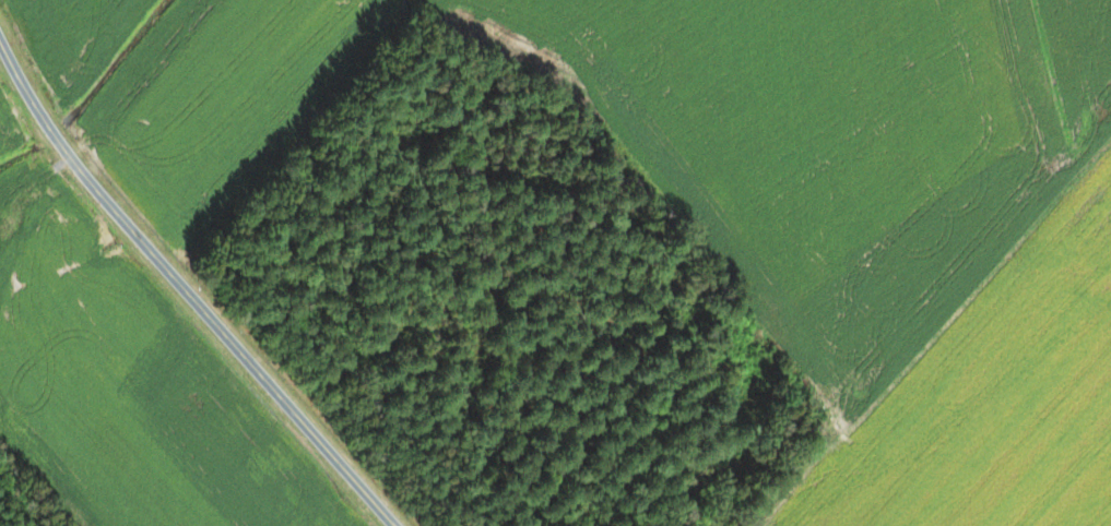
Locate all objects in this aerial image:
road: (185, 291)

